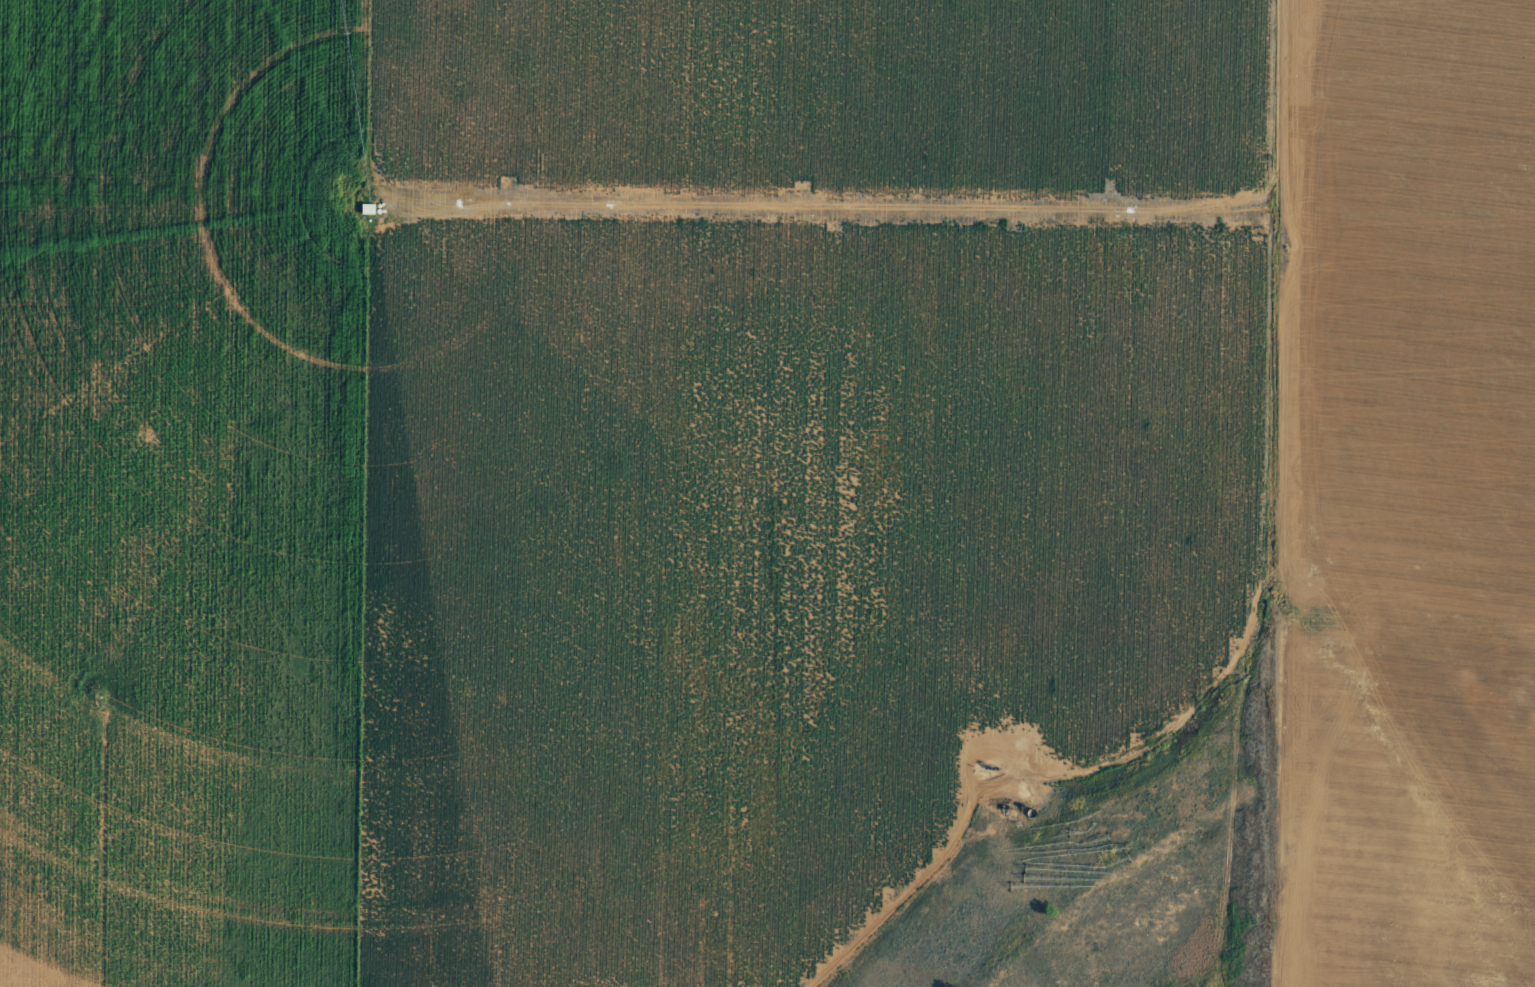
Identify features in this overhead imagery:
road: (1286, 493)
petroleum well: (989, 765)
road: (1048, 788)

